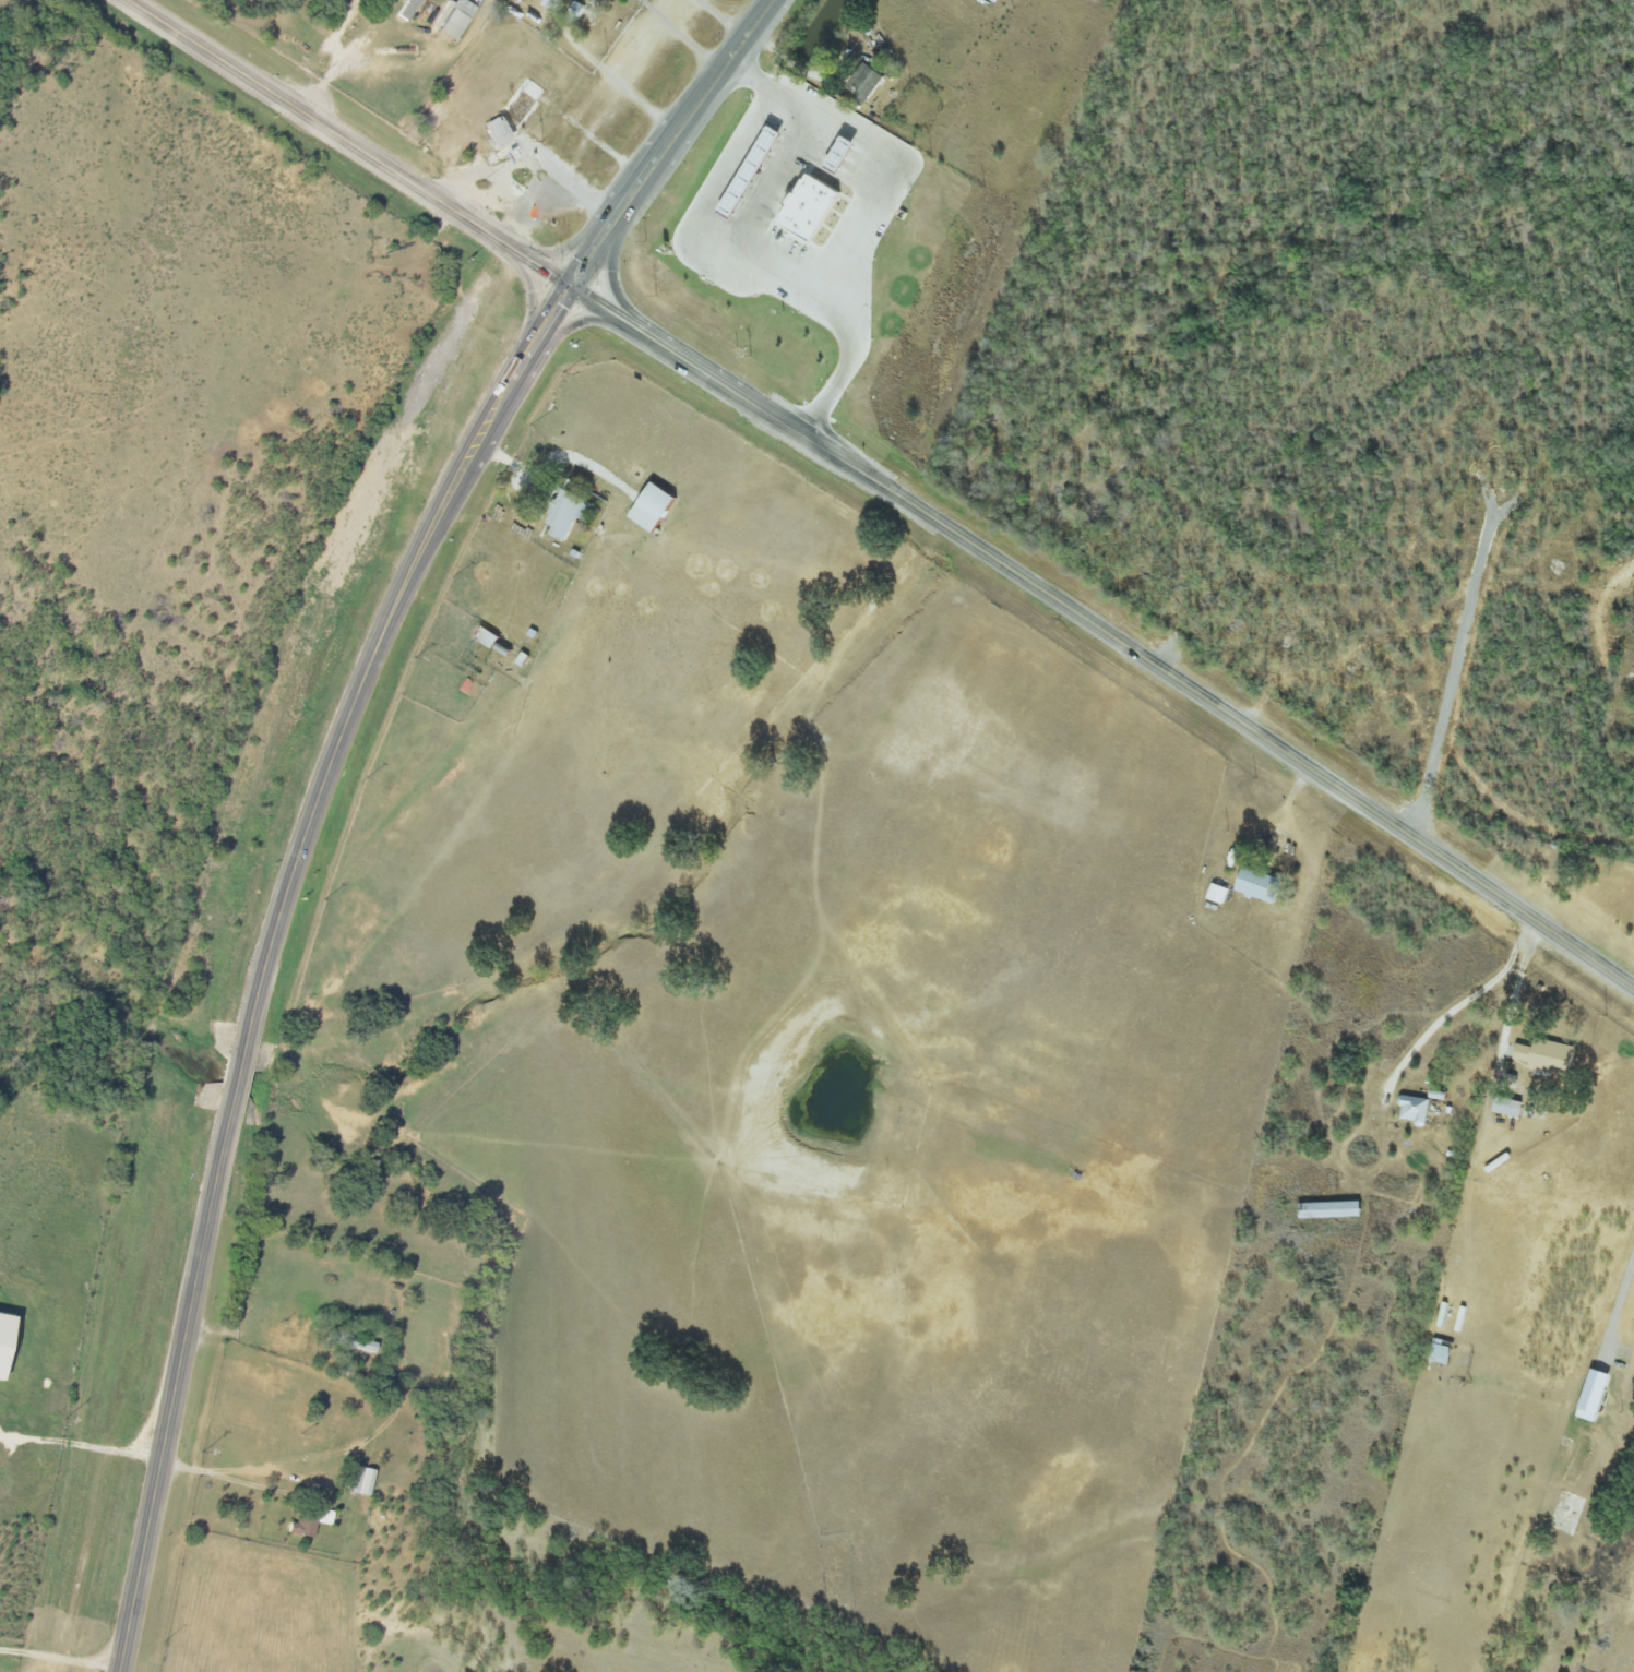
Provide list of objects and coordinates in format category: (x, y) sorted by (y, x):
building: (556, 4)
building: (410, 10)
building: (444, 13)
road: (727, 15)
building: (456, 21)
road: (685, 32)
building: (869, 83)
building: (501, 132)
road: (347, 143)
gas station: (846, 154)
road: (529, 160)
building: (755, 171)
gas station: (755, 171)
parking lot: (910, 179)
road: (875, 206)
building: (813, 207)
road: (705, 232)
traffic signals: (570, 286)
building: (550, 488)
road: (450, 489)
building: (657, 507)
building: (569, 514)
road: (1105, 633)
building: (488, 636)
building: (1262, 885)
building: (1219, 894)
road: (1466, 1000)
building: (1549, 1056)
road: (239, 1067)
building: (1510, 1107)
building: (1416, 1109)
building: (1334, 1210)
road: (1620, 1311)
building: (7, 1341)
building: (353, 1341)
building: (1442, 1354)
road: (176, 1385)
building: (1597, 1396)
road: (81, 1443)
road: (307, 1458)
building: (363, 1480)
road: (271, 1486)
building: (305, 1527)
road: (57, 1659)

